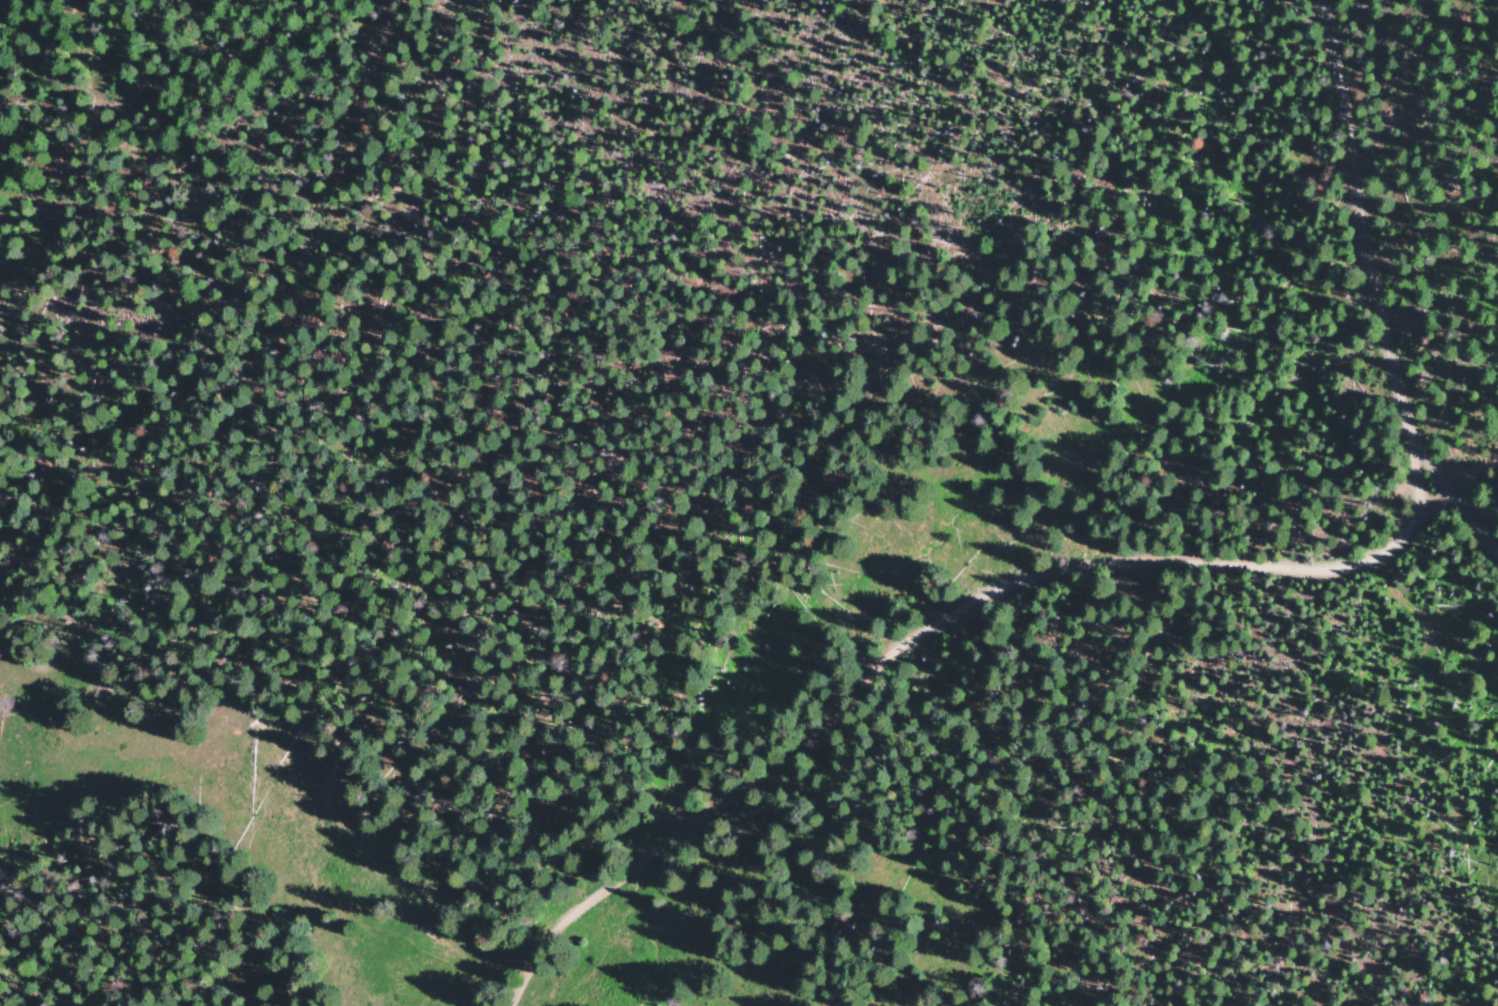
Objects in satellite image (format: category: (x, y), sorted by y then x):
road: (1378, 258)
road: (1451, 344)
road: (1418, 523)
road: (1472, 526)
road: (893, 645)

